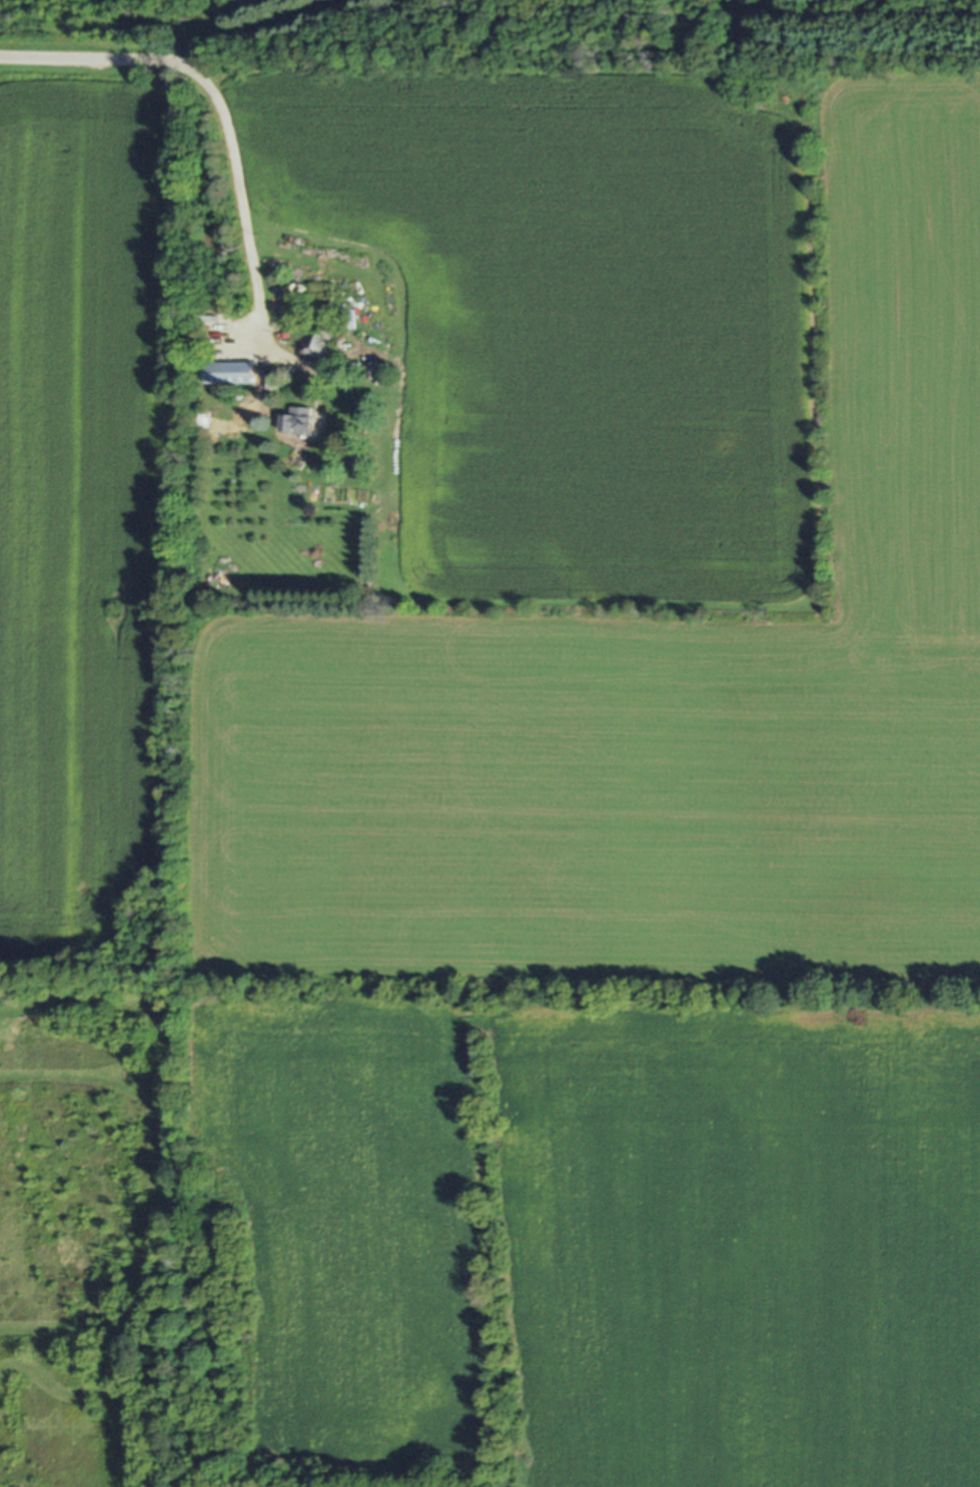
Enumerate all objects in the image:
road: (254, 27)
road: (85, 54)
road: (239, 191)
building: (320, 336)
building: (371, 371)
building: (230, 373)
building: (298, 421)

